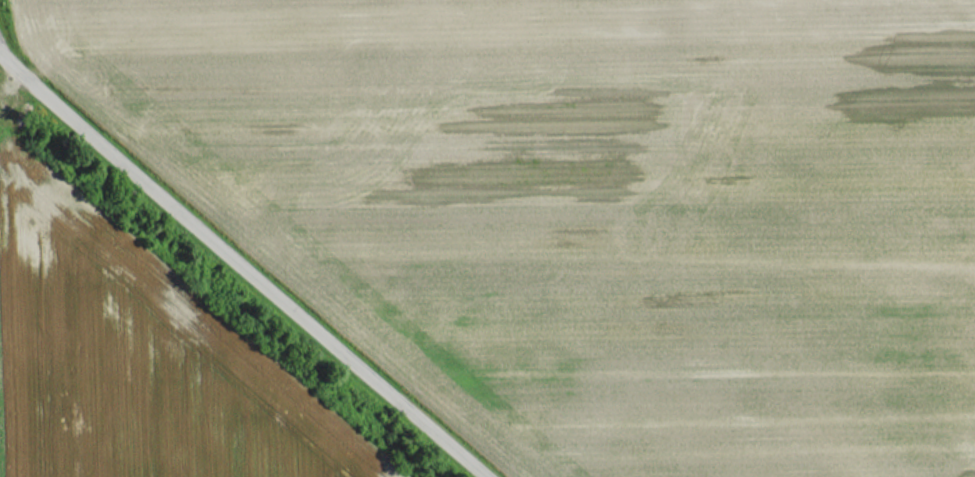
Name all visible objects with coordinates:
crop: (600, 208)
road: (242, 265)
railway: (208, 296)
crop: (13, 320)
crop: (144, 374)

